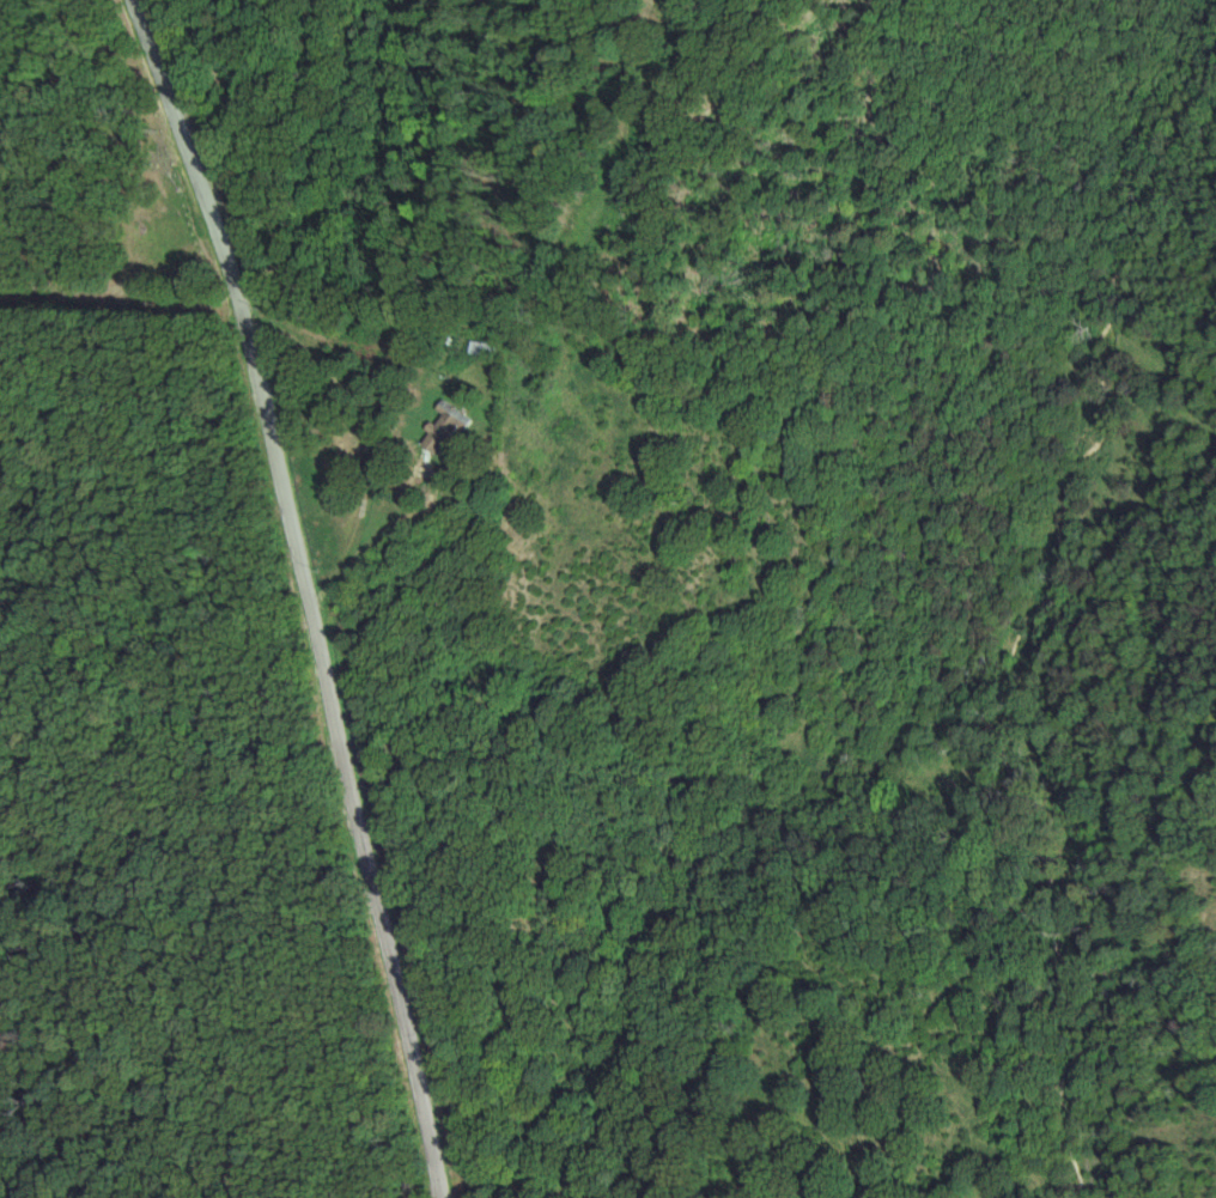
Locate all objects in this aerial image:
road: (47, 61)
building: (438, 431)
road: (375, 445)
road: (305, 592)

